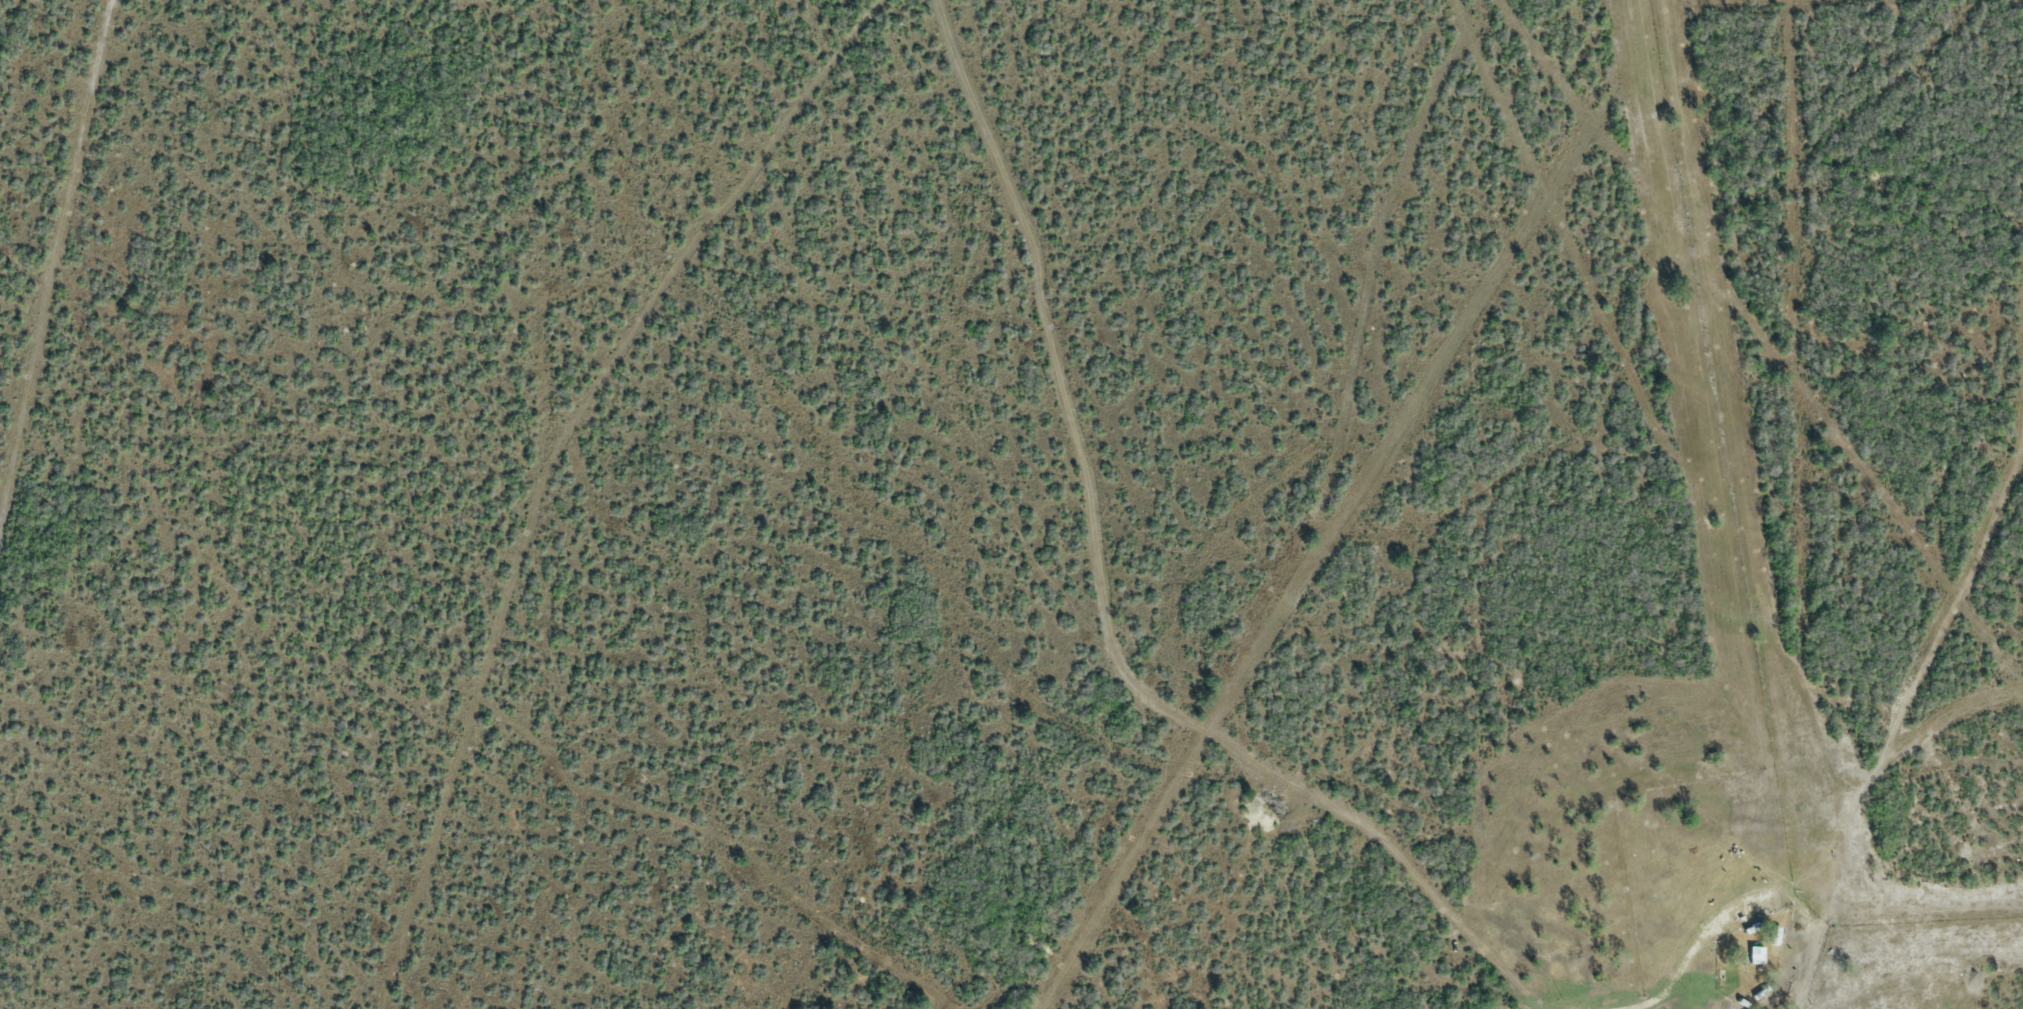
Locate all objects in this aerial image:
road: (1680, 962)

